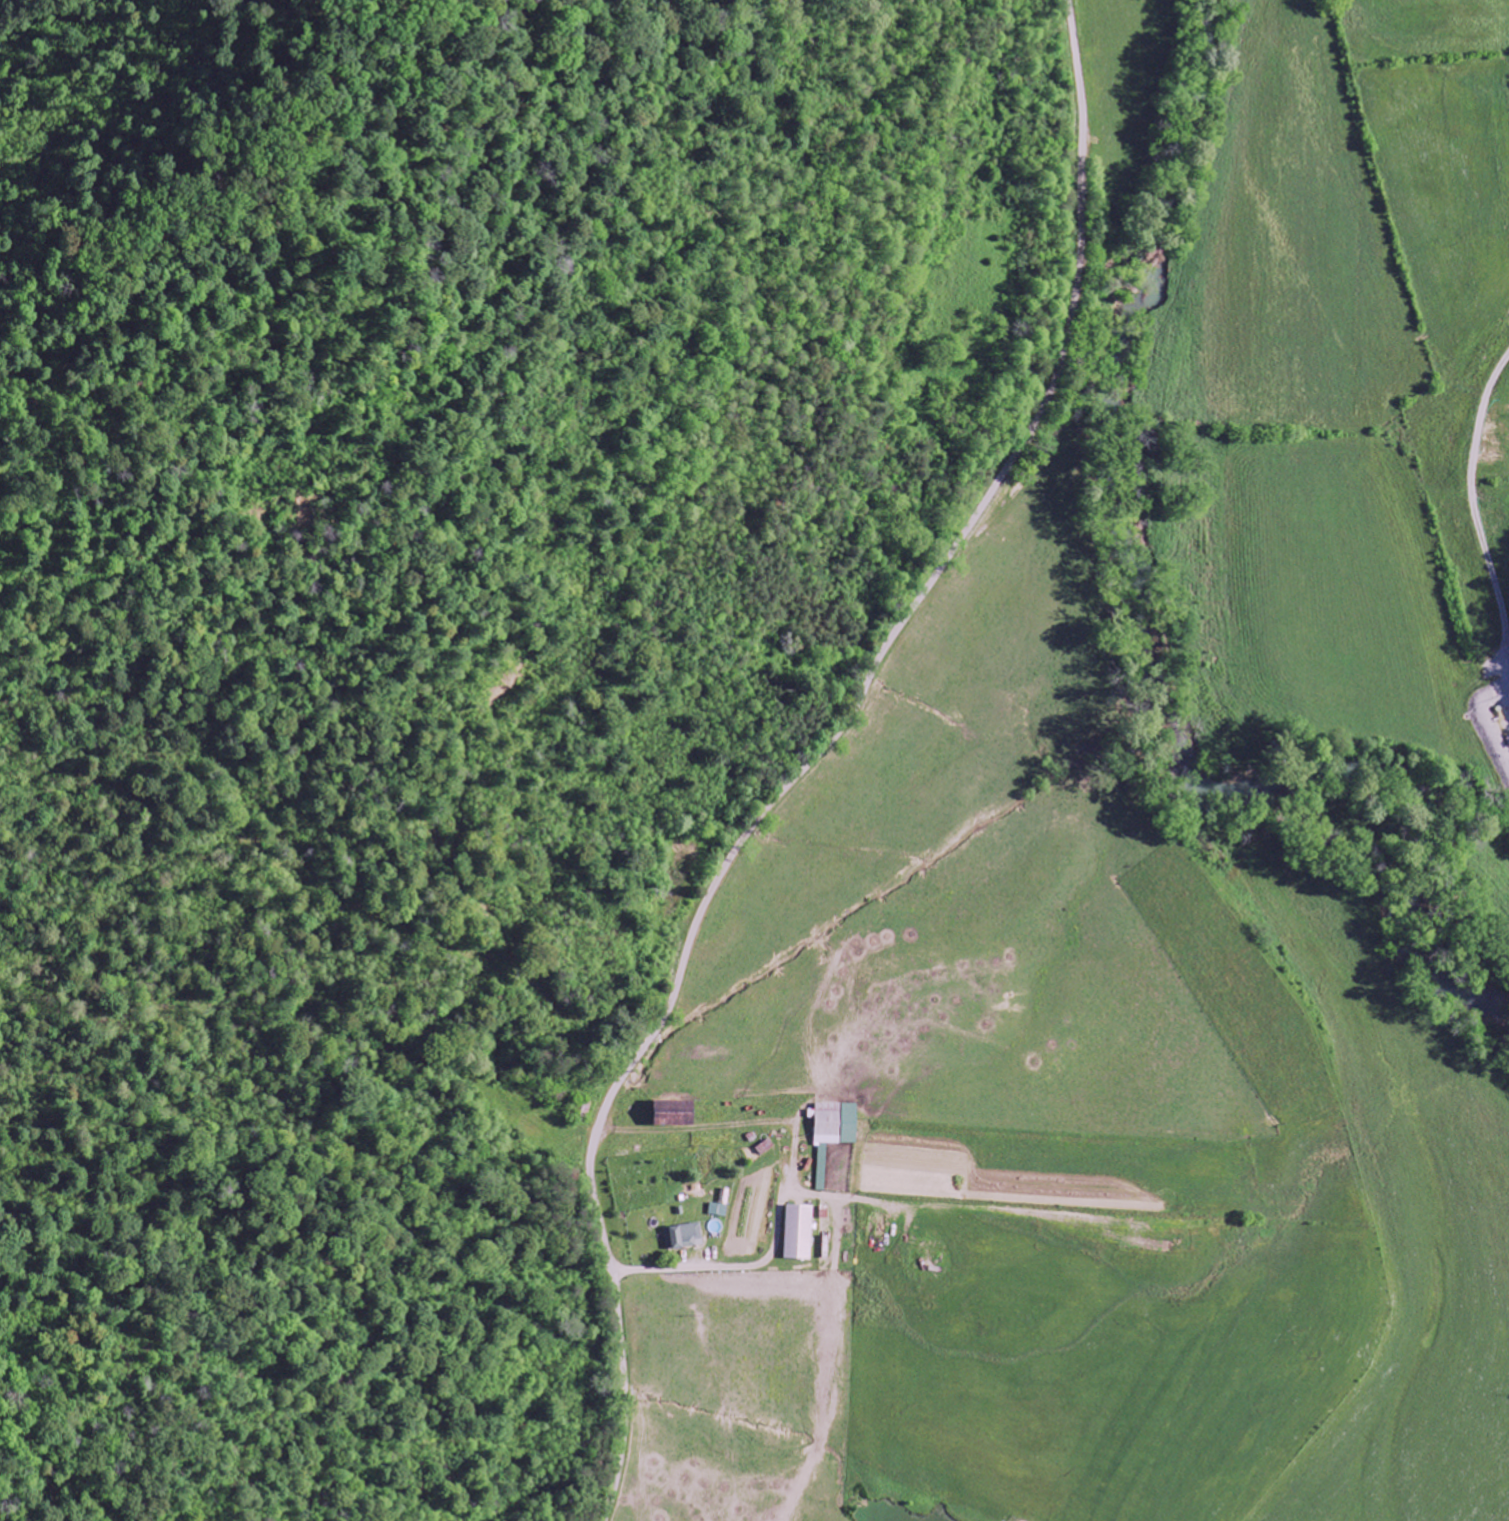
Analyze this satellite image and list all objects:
road: (815, 757)
building: (676, 1113)
building: (835, 1132)
building: (719, 1210)
building: (799, 1232)
building: (685, 1237)

